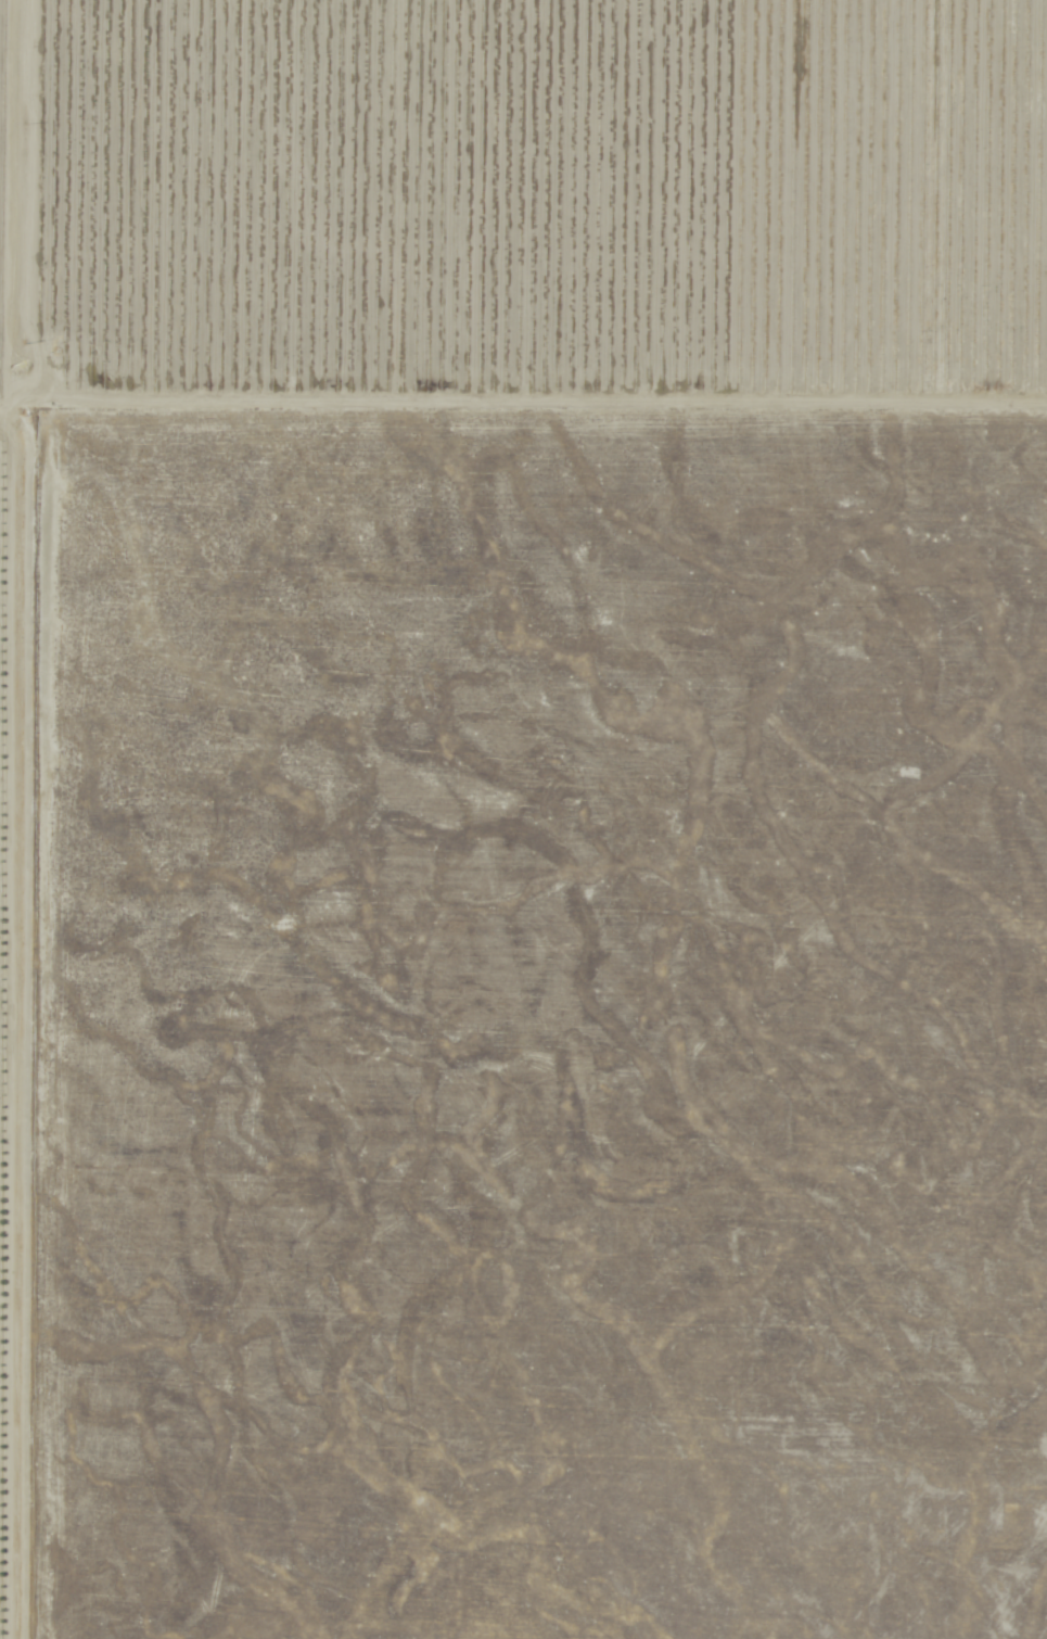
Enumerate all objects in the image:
crop: (537, 812)

